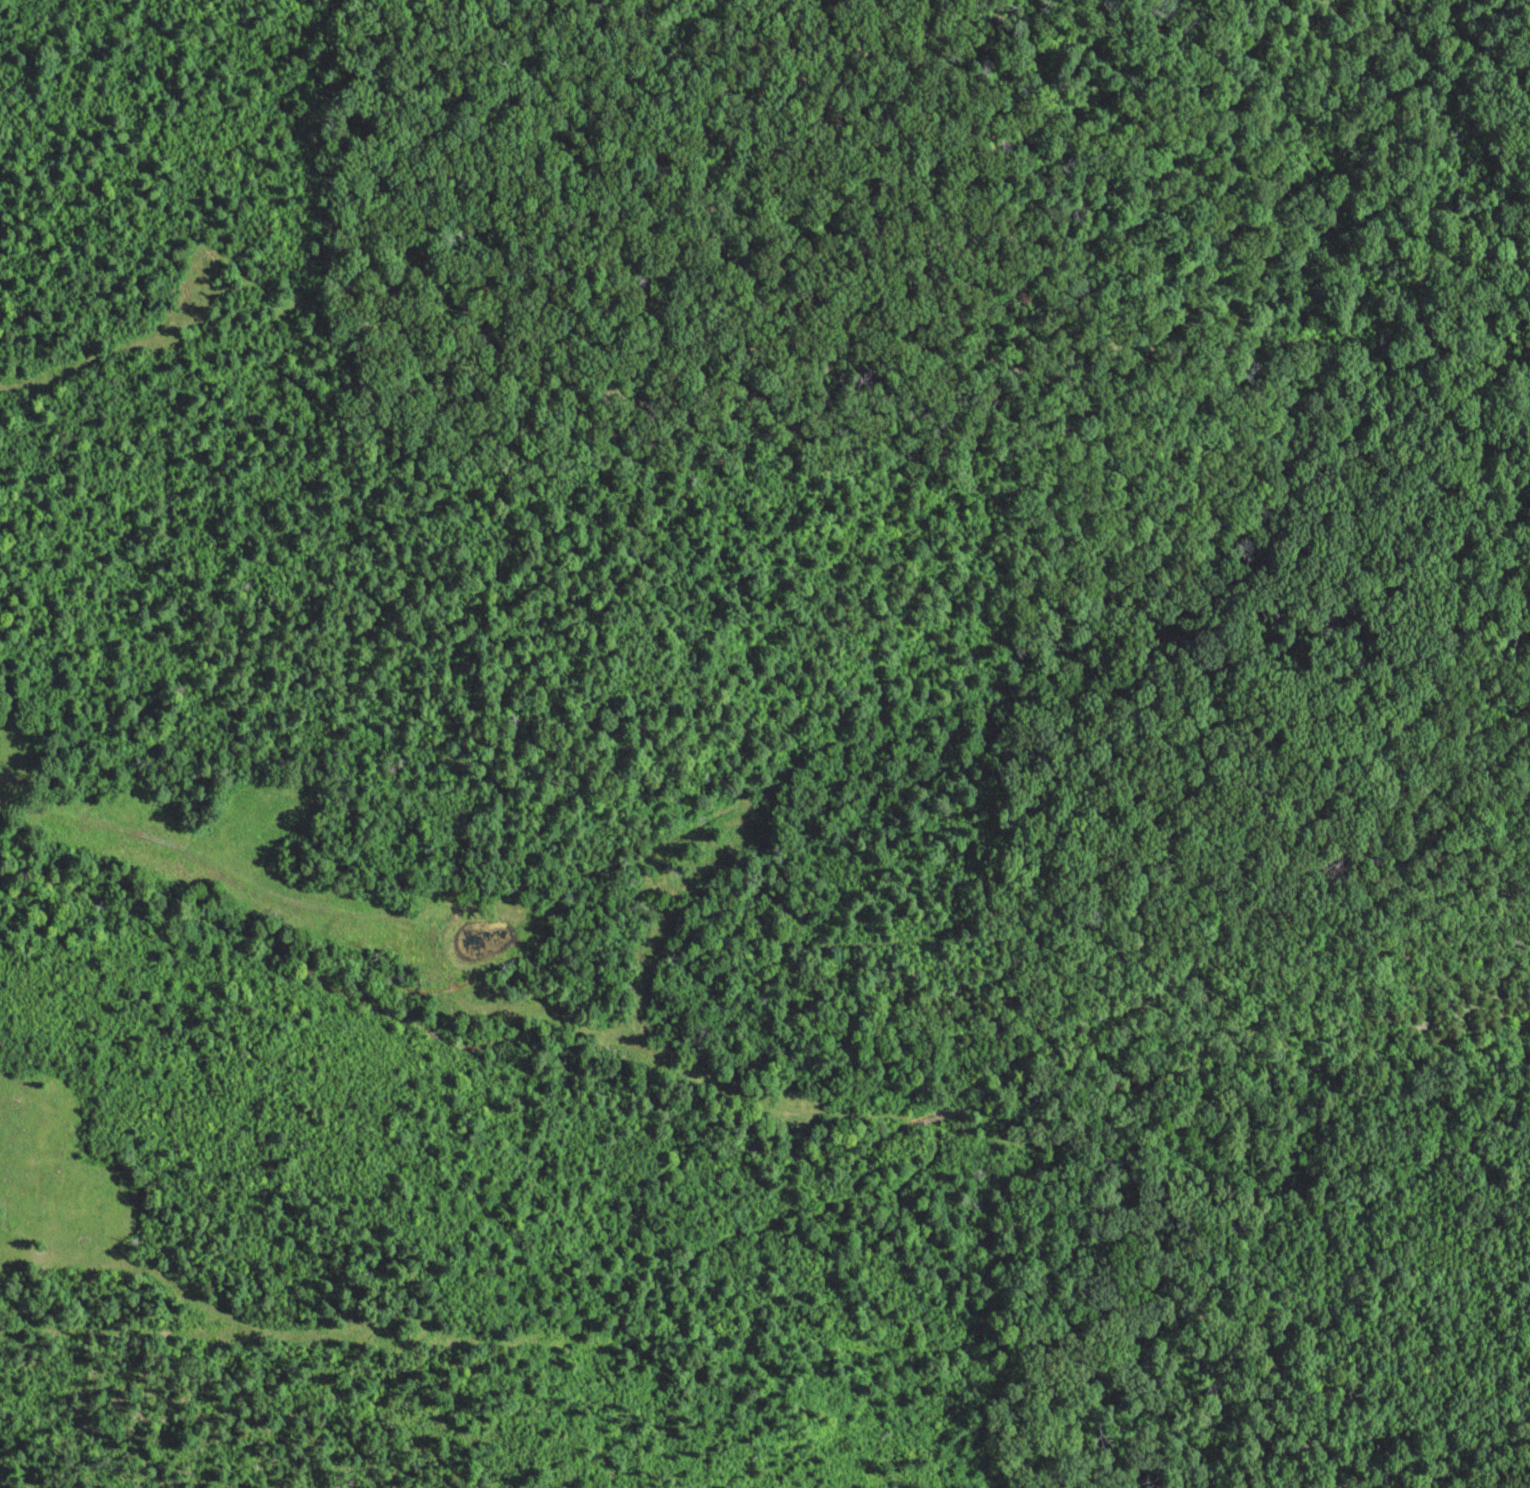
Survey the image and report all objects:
road: (1370, 766)

